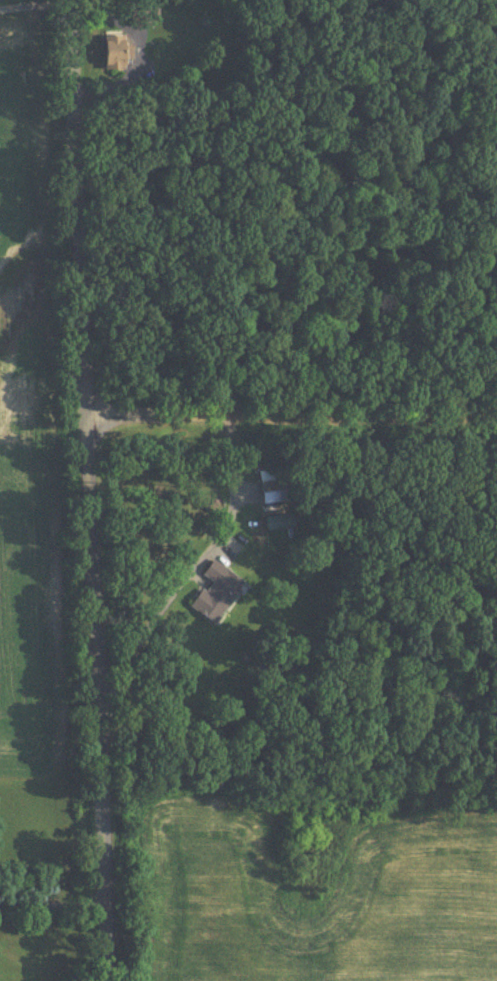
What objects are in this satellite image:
road: (39, 5)
building: (117, 55)
road: (296, 413)
building: (273, 487)
road: (98, 490)
building: (216, 595)
road: (56, 906)

